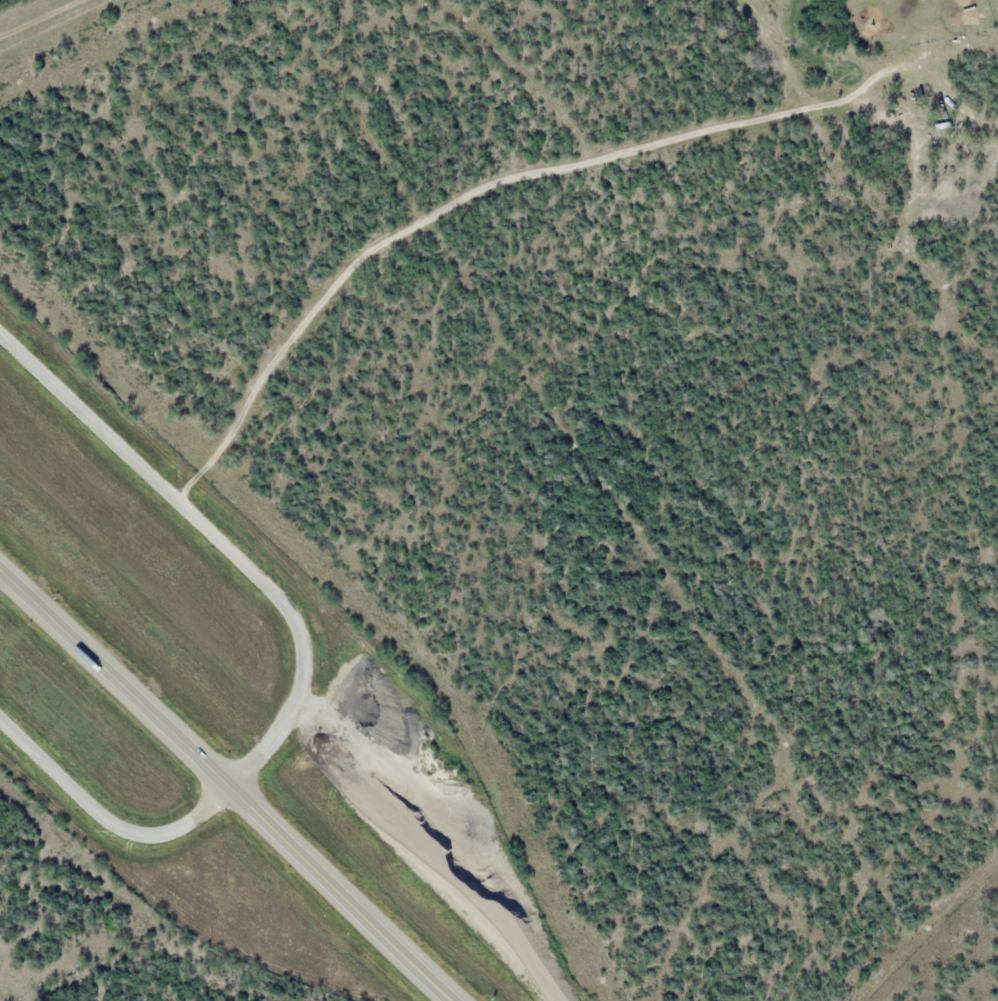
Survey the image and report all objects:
road: (455, 199)
road: (305, 652)
road: (225, 786)

